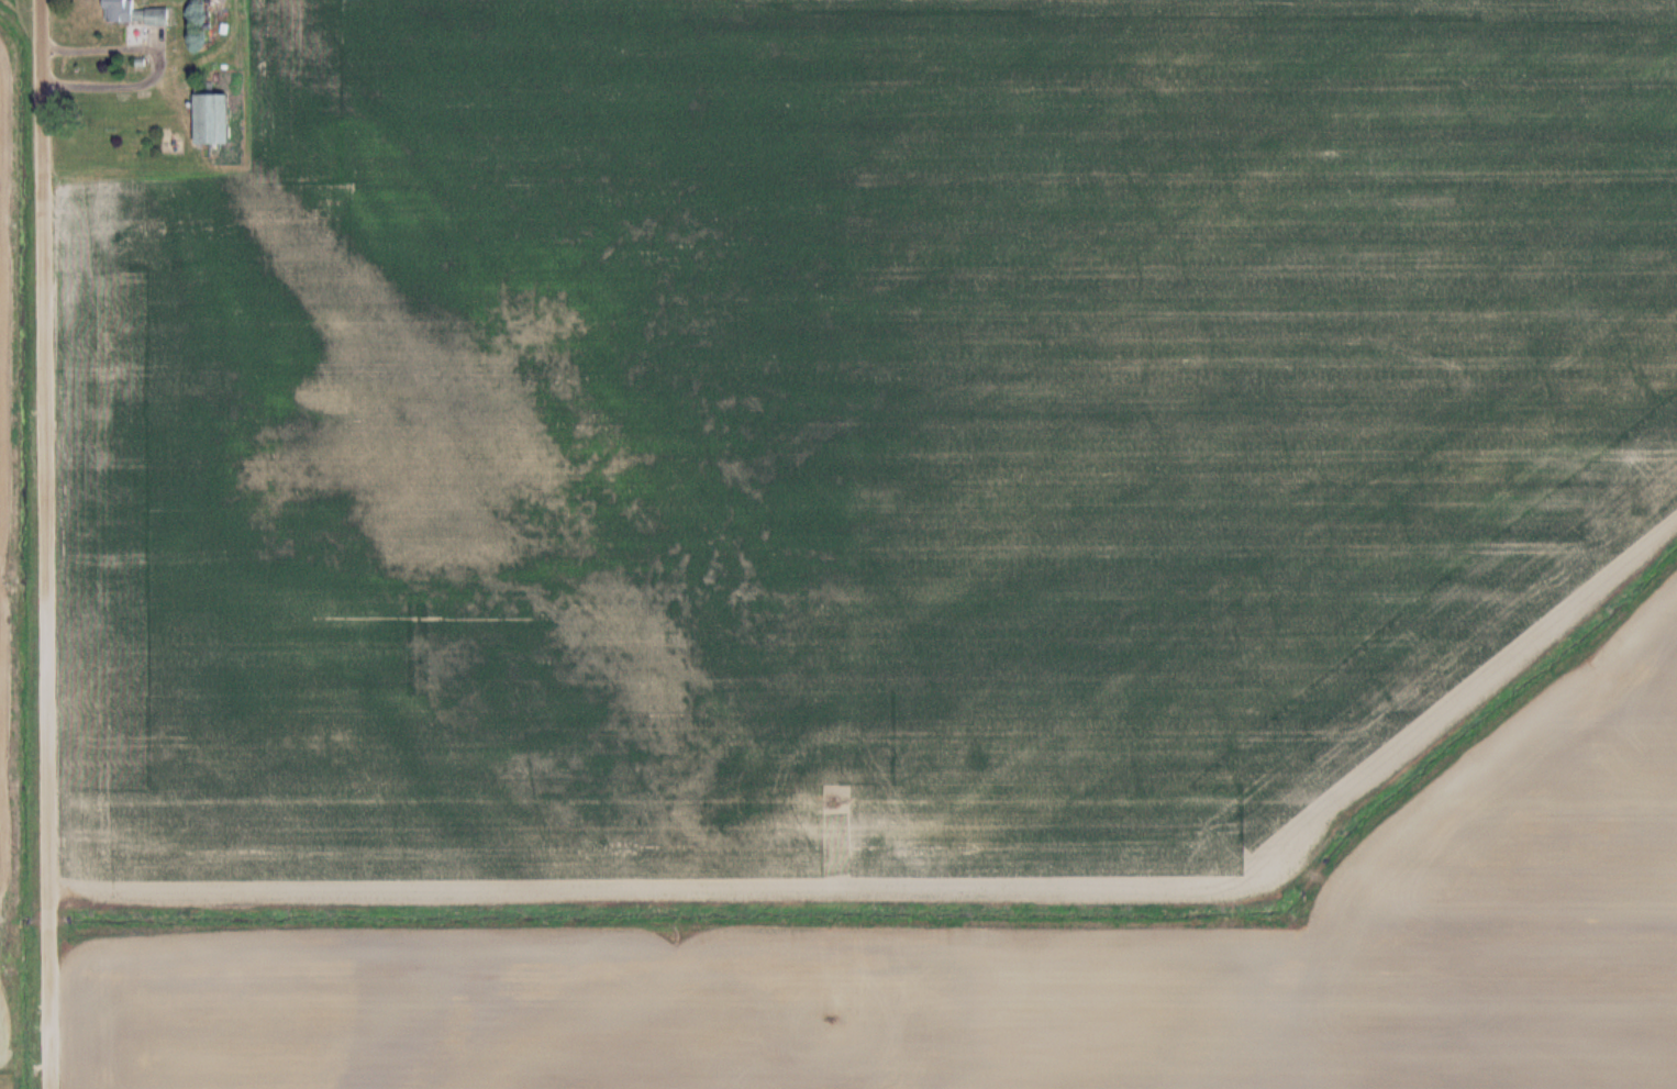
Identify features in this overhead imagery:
building: (137, 13)
building: (220, 118)
road: (46, 544)

